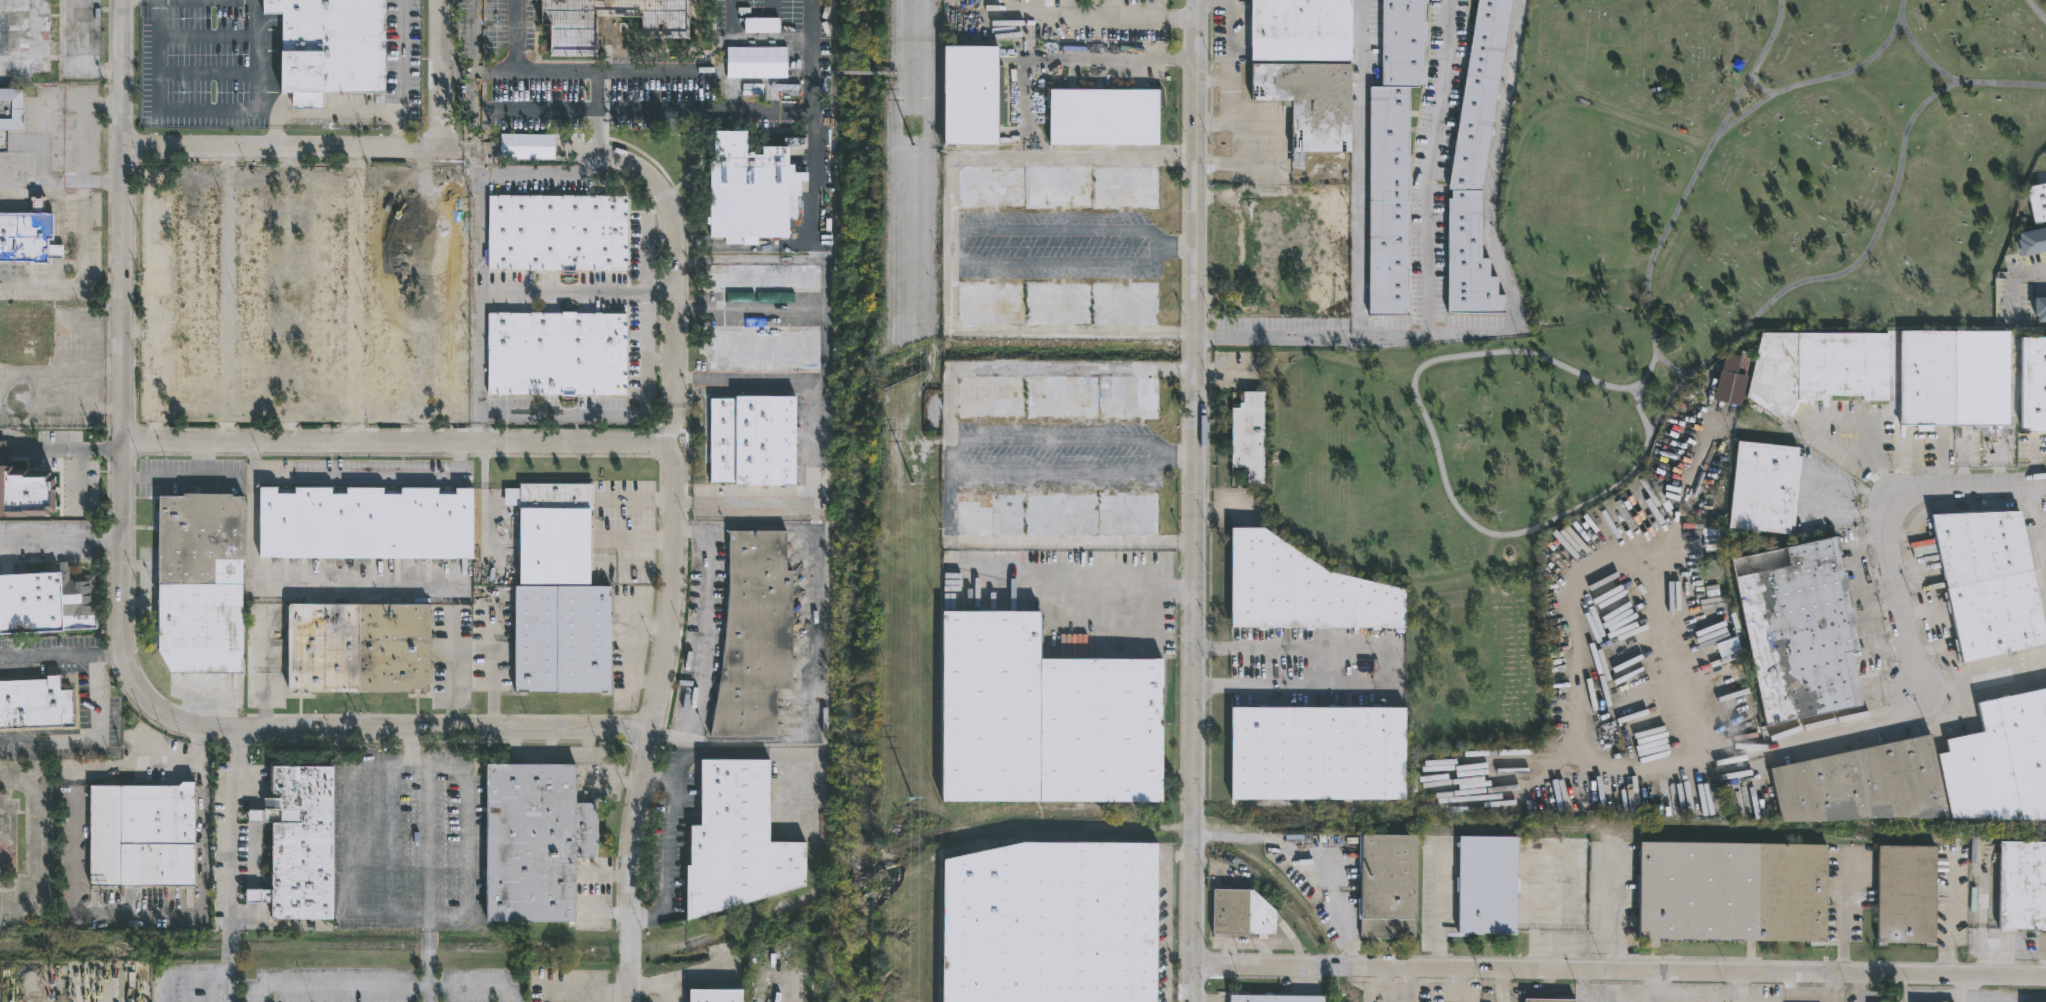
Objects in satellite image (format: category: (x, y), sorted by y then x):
road: (451, 8)
road: (1156, 8)
road: (2037, 10)
road: (2044, 16)
road: (1094, 17)
road: (1229, 24)
building: (1298, 30)
building: (571, 33)
road: (78, 35)
building: (22, 39)
building: (331, 48)
road: (1881, 48)
road: (773, 55)
road: (475, 56)
road: (1920, 56)
road: (402, 62)
road: (578, 62)
road: (895, 62)
road: (1546, 64)
parking lot: (197, 65)
road: (639, 70)
road: (819, 72)
road: (863, 72)
road: (441, 74)
road: (1851, 83)
road: (1959, 85)
road: (1756, 87)
road: (733, 90)
building: (970, 96)
road: (605, 99)
road: (1025, 101)
building: (1303, 104)
road: (171, 109)
road: (1602, 110)
road: (644, 111)
road: (913, 111)
building: (9, 112)
road: (340, 115)
road: (1744, 115)
building: (1103, 116)
road: (812, 123)
road: (1213, 124)
road: (1277, 125)
road: (81, 142)
power tower: (912, 148)
road: (294, 150)
road: (605, 150)
building: (1392, 155)
road: (478, 156)
road: (422, 157)
road: (226, 163)
road: (1429, 167)
road: (1358, 168)
building: (1471, 168)
road: (422, 169)
parking lot: (911, 172)
road: (395, 174)
road: (257, 176)
road: (322, 176)
building: (1057, 188)
building: (748, 189)
road: (1506, 194)
road: (663, 195)
road: (1309, 195)
road: (1213, 196)
building: (2037, 202)
road: (669, 205)
road: (478, 211)
road: (1674, 212)
road: (80, 231)
building: (557, 232)
building: (26, 235)
building: (2031, 242)
road: (686, 251)
road: (741, 259)
road: (952, 260)
building: (1292, 260)
road: (1241, 265)
road: (478, 266)
road: (153, 273)
road: (646, 273)
building: (763, 277)
road: (2033, 285)
road: (664, 287)
road: (566, 291)
park: (1650, 291)
parking lot: (555, 292)
building: (327, 293)
building: (197, 294)
building: (251, 294)
road: (225, 295)
road: (356, 295)
building: (384, 295)
building: (456, 295)
road: (286, 296)
road: (420, 299)
building: (1057, 301)
building: (471, 304)
road: (782, 307)
building: (2038, 310)
road: (1513, 323)
road: (908, 324)
road: (138, 329)
road: (1040, 332)
building: (26, 340)
road: (478, 348)
building: (764, 348)
road: (1719, 352)
building: (556, 353)
road: (1525, 355)
road: (650, 360)
road: (665, 360)
road: (1670, 366)
building: (1813, 369)
building: (1950, 378)
road: (1275, 380)
building: (2032, 384)
building: (1058, 397)
road: (188, 414)
road: (255, 414)
road: (321, 414)
road: (449, 416)
road: (394, 417)
road: (224, 428)
road: (668, 428)
road: (491, 430)
road: (419, 432)
road: (479, 433)
road: (814, 433)
building: (1245, 434)
road: (661, 438)
building: (752, 439)
road: (1058, 439)
road: (388, 442)
road: (59, 448)
road: (951, 454)
road: (1868, 460)
road: (1076, 470)
road: (355, 475)
road: (186, 484)
power tower: (911, 484)
building: (1761, 486)
road: (1803, 488)
building: (24, 490)
road: (639, 496)
road: (485, 497)
road: (1194, 500)
road: (684, 504)
road: (1890, 509)
road: (1938, 509)
road: (2005, 509)
road: (2039, 509)
building: (1056, 512)
road: (1897, 522)
building: (362, 523)
building: (551, 532)
road: (60, 538)
road: (639, 540)
road: (2039, 540)
road: (1918, 551)
road: (305, 580)
road: (683, 581)
building: (1985, 581)
building: (195, 582)
road: (1069, 589)
building: (1300, 589)
road: (1924, 589)
road: (1183, 590)
building: (42, 600)
road: (121, 610)
road: (1147, 618)
building: (1796, 628)
road: (704, 632)
road: (1933, 632)
building: (753, 635)
building: (559, 639)
road: (812, 645)
building: (354, 647)
road: (1211, 648)
road: (109, 649)
road: (48, 653)
road: (472, 653)
road: (1951, 663)
road: (1390, 666)
road: (1983, 671)
road: (1211, 685)
road: (1581, 698)
building: (35, 703)
road: (655, 717)
building: (1042, 718)
road: (91, 739)
road: (1466, 739)
road: (410, 747)
road: (685, 753)
building: (1316, 753)
building: (1929, 773)
road: (661, 778)
power tower: (909, 798)
building: (1422, 801)
railway: (1620, 828)
building: (137, 837)
road: (391, 838)
building: (534, 841)
building: (734, 841)
building: (300, 843)
road: (1317, 852)
road: (1183, 856)
road: (229, 864)
building: (1483, 884)
building: (2021, 885)
building: (1387, 886)
building: (1728, 891)
building: (1903, 894)
road: (74, 896)
road: (466, 897)
road: (1614, 904)
road: (1439, 906)
road: (1845, 907)
building: (1241, 914)
road: (1958, 915)
building: (1049, 923)
railway: (723, 928)
road: (1167, 928)
road: (427, 968)
road: (1619, 969)
road: (196, 972)
road: (380, 981)
road: (654, 984)
road: (759, 984)
road: (1510, 986)
road: (1858, 986)
road: (1931, 995)
building: (712, 996)
building: (1269, 998)
building: (1545, 1000)

